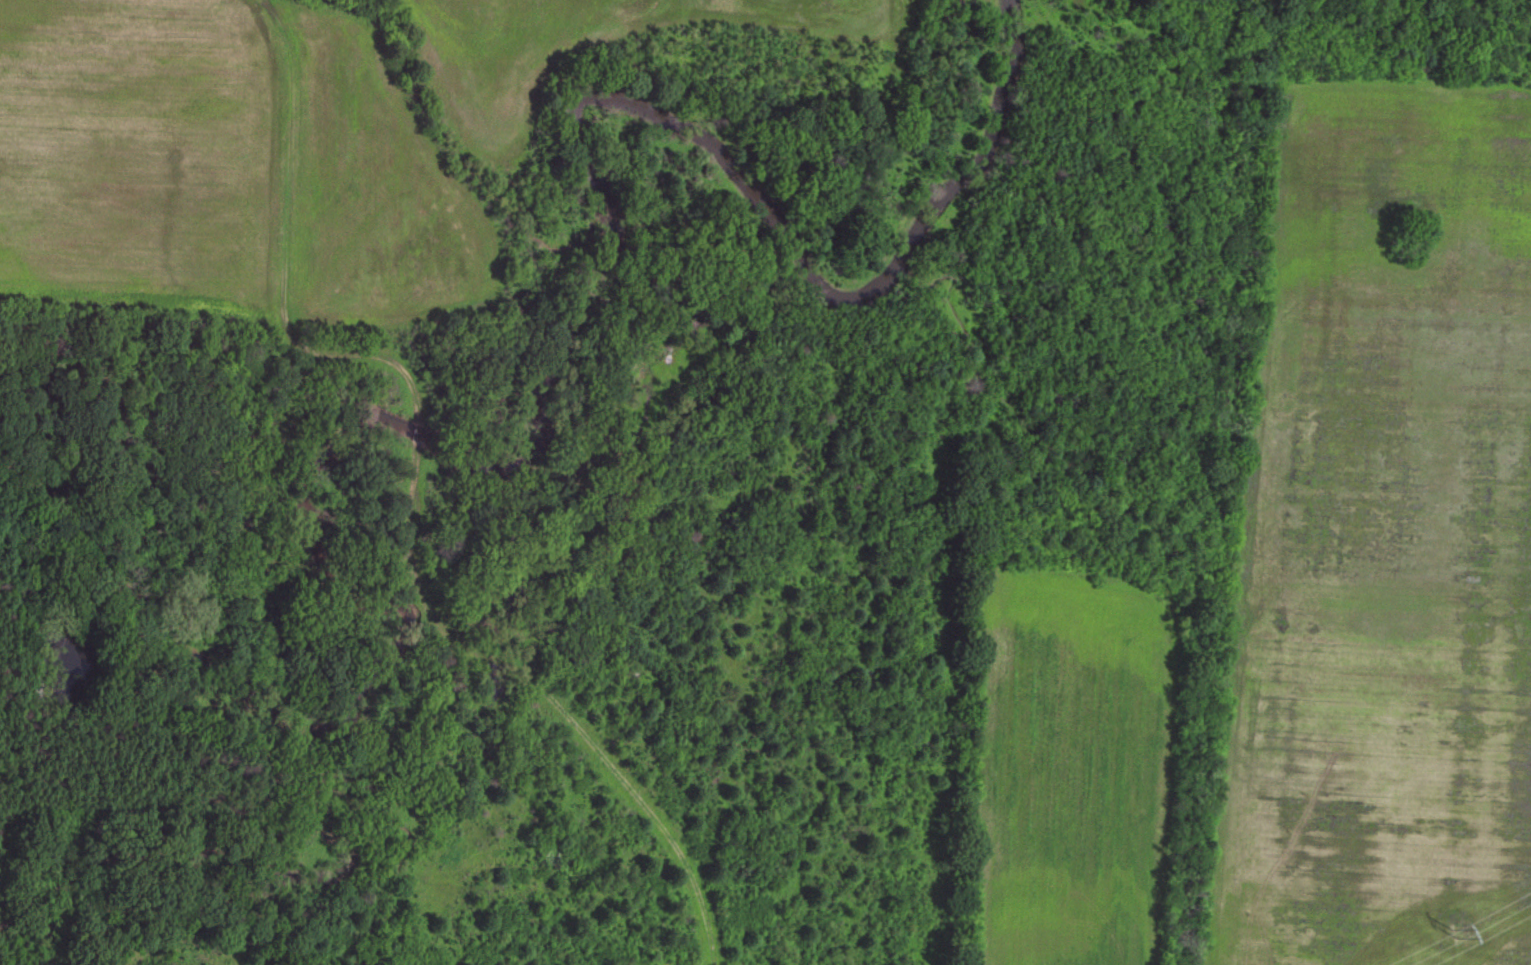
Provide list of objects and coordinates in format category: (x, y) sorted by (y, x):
road: (1195, 481)
power tower: (1461, 942)

